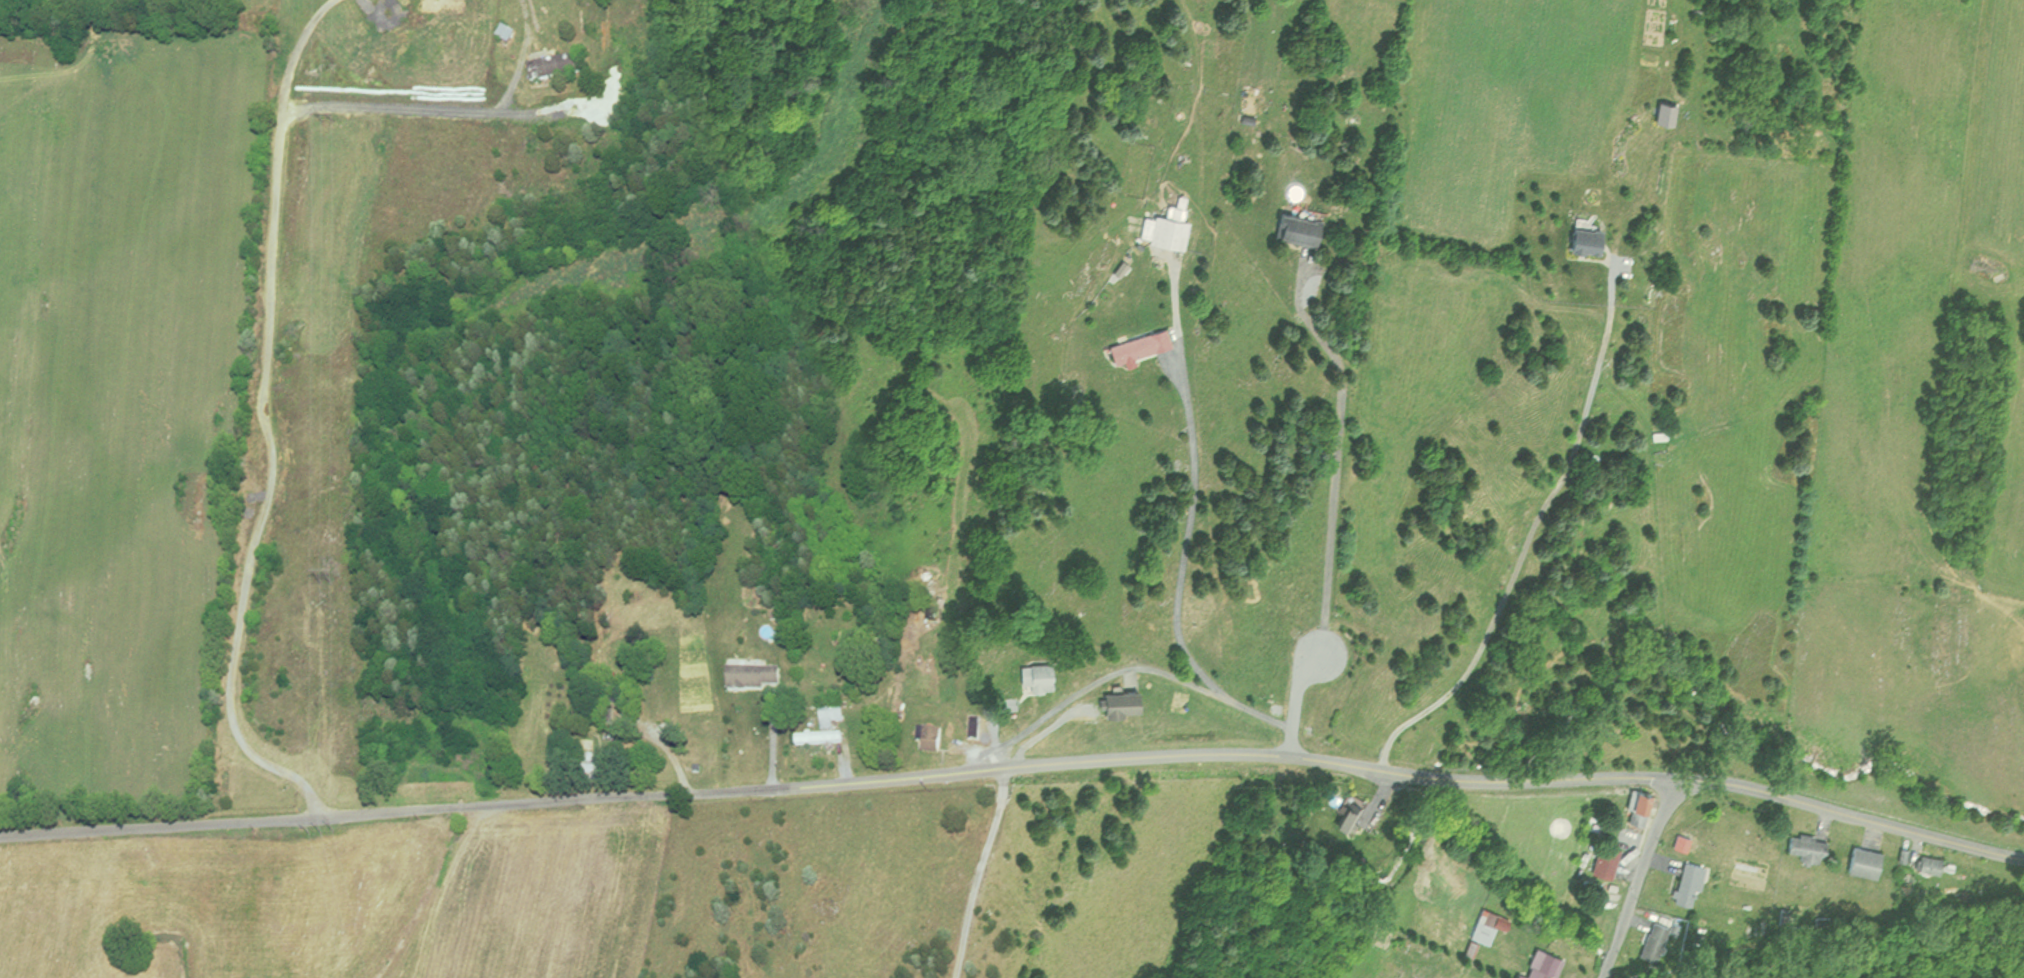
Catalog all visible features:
building: (514, 32)
road: (294, 52)
building: (568, 66)
road: (449, 110)
power tower: (327, 121)
building: (1289, 228)
building: (1173, 231)
building: (1150, 345)
building: (1654, 436)
road: (1340, 446)
road: (272, 488)
road: (1190, 536)
power tower: (325, 584)
building: (1048, 677)
building: (761, 679)
road: (1098, 681)
building: (1114, 703)
road: (1297, 706)
building: (835, 715)
road: (1260, 715)
building: (977, 734)
building: (938, 739)
building: (605, 772)
road: (838, 773)
building: (1629, 808)
building: (1341, 814)
road: (1851, 815)
power tower: (321, 832)
building: (1800, 848)
building: (1597, 861)
building: (1857, 862)
building: (1924, 864)
road: (979, 868)
road: (1638, 878)
building: (1681, 884)
building: (1480, 924)
building: (1655, 937)
building: (1537, 965)
building: (1512, 976)

